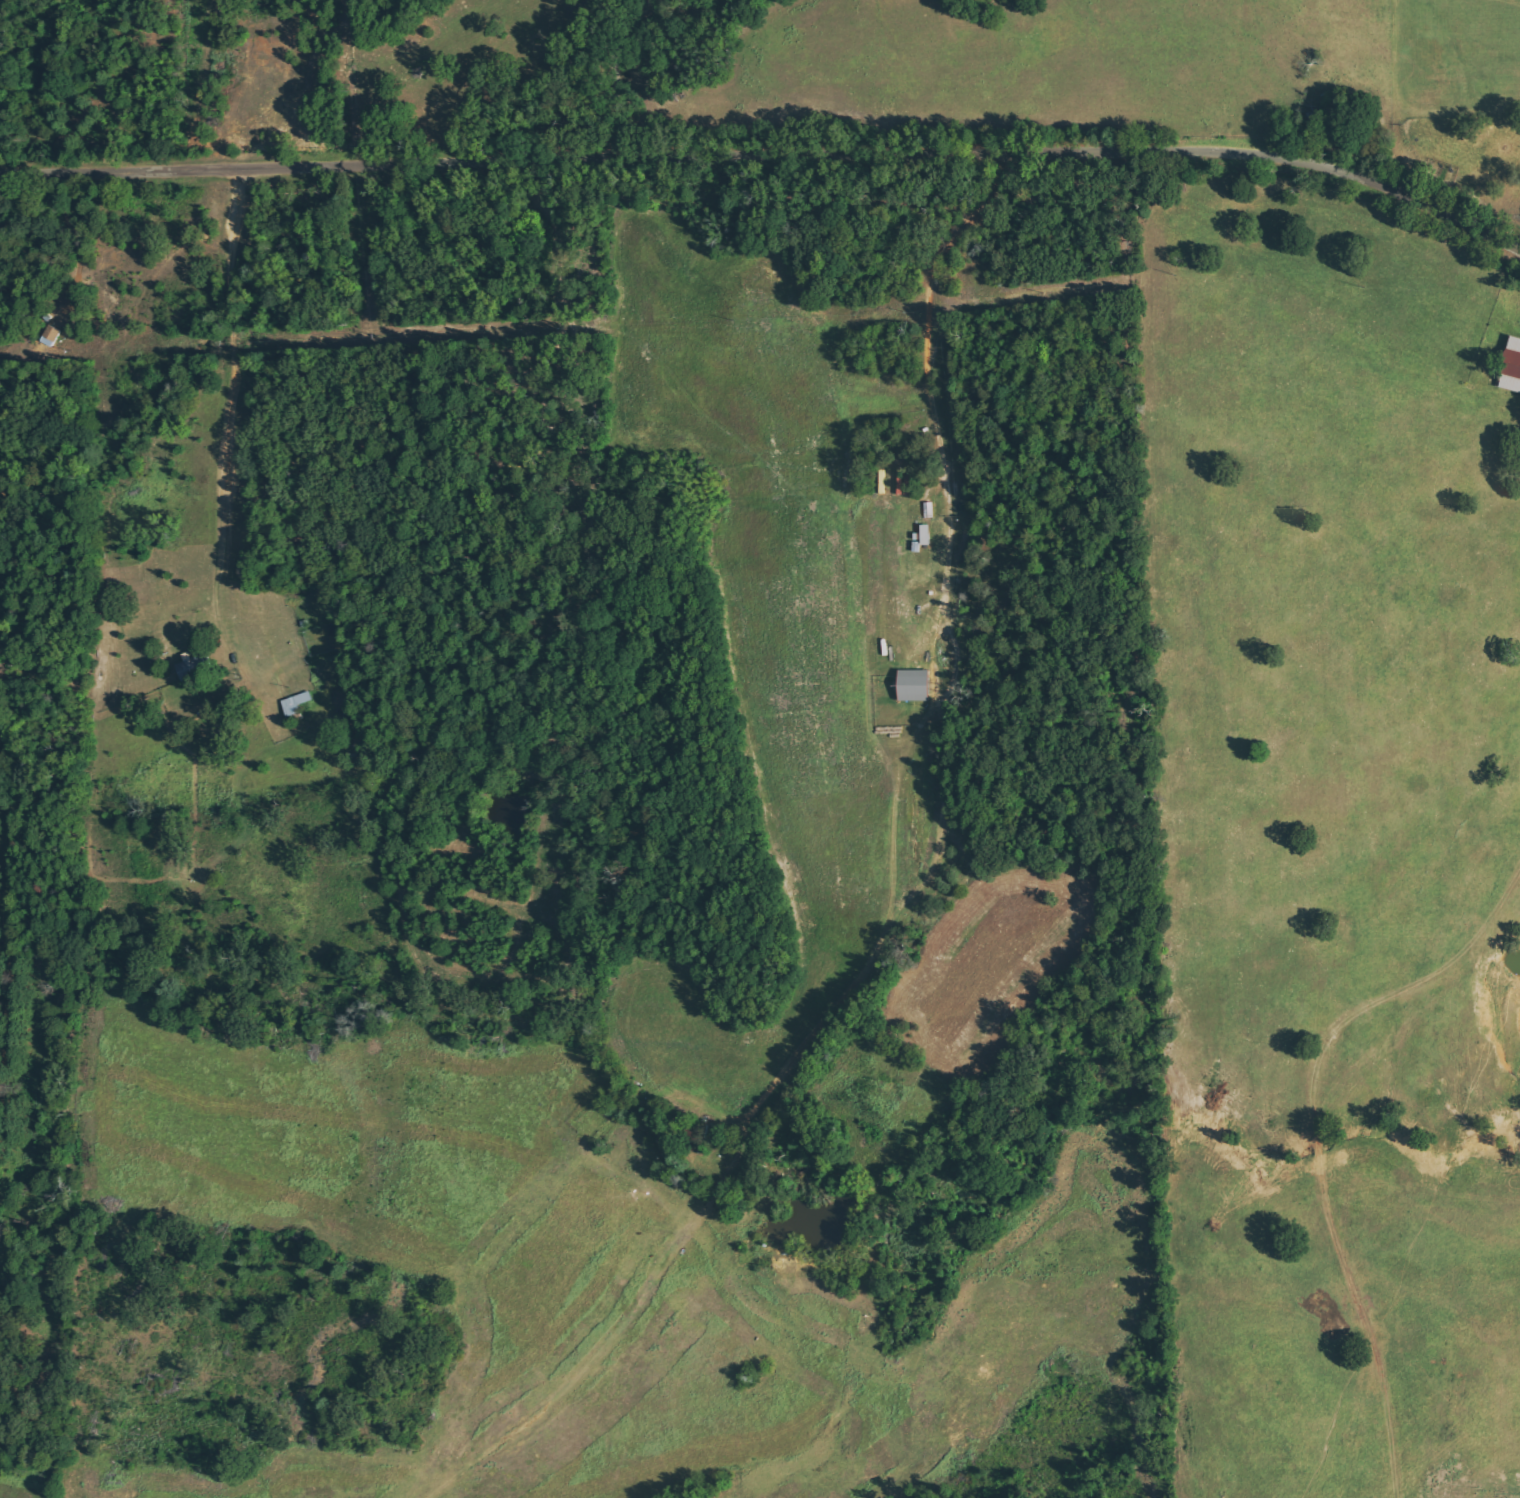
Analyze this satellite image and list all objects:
road: (604, 79)
road: (769, 155)
building: (1514, 368)
building: (929, 509)
road: (927, 657)
building: (196, 666)
building: (917, 684)
building: (297, 702)

